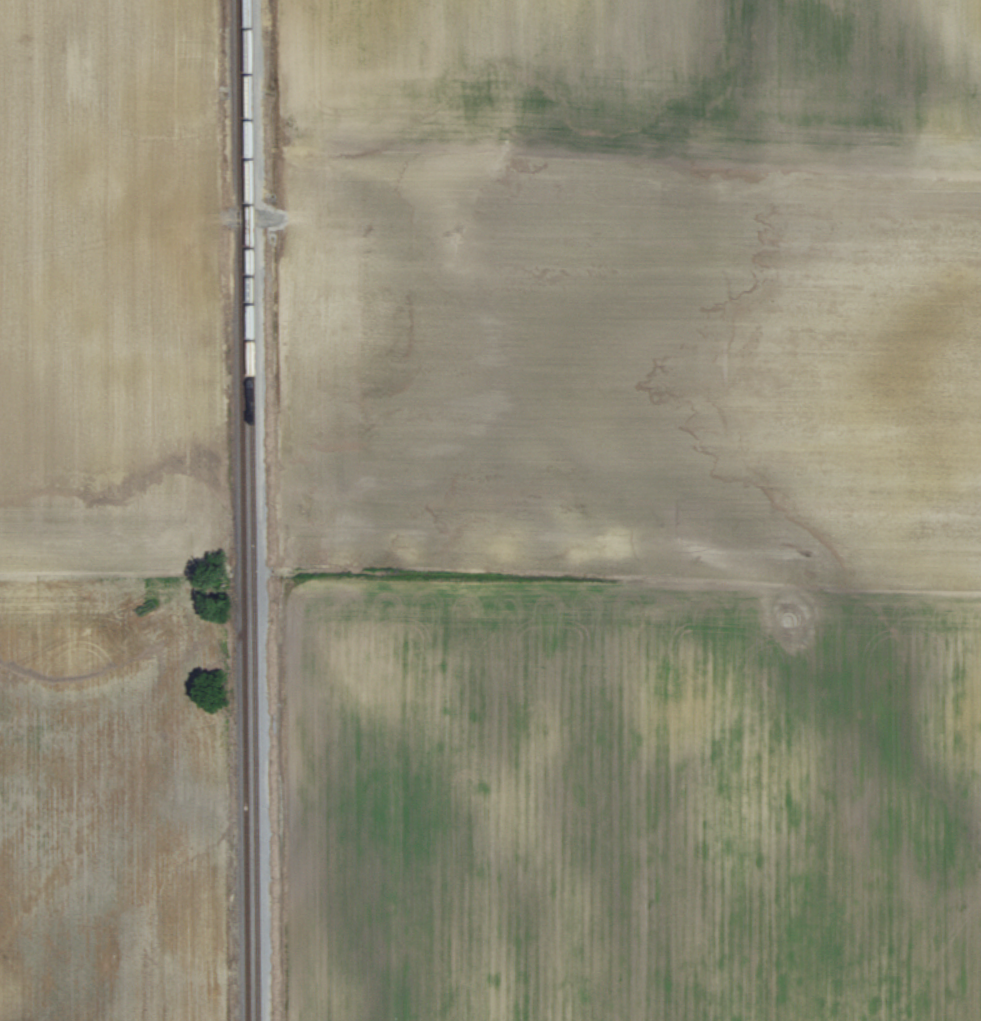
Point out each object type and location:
railway: (243, 510)
railway: (252, 510)

